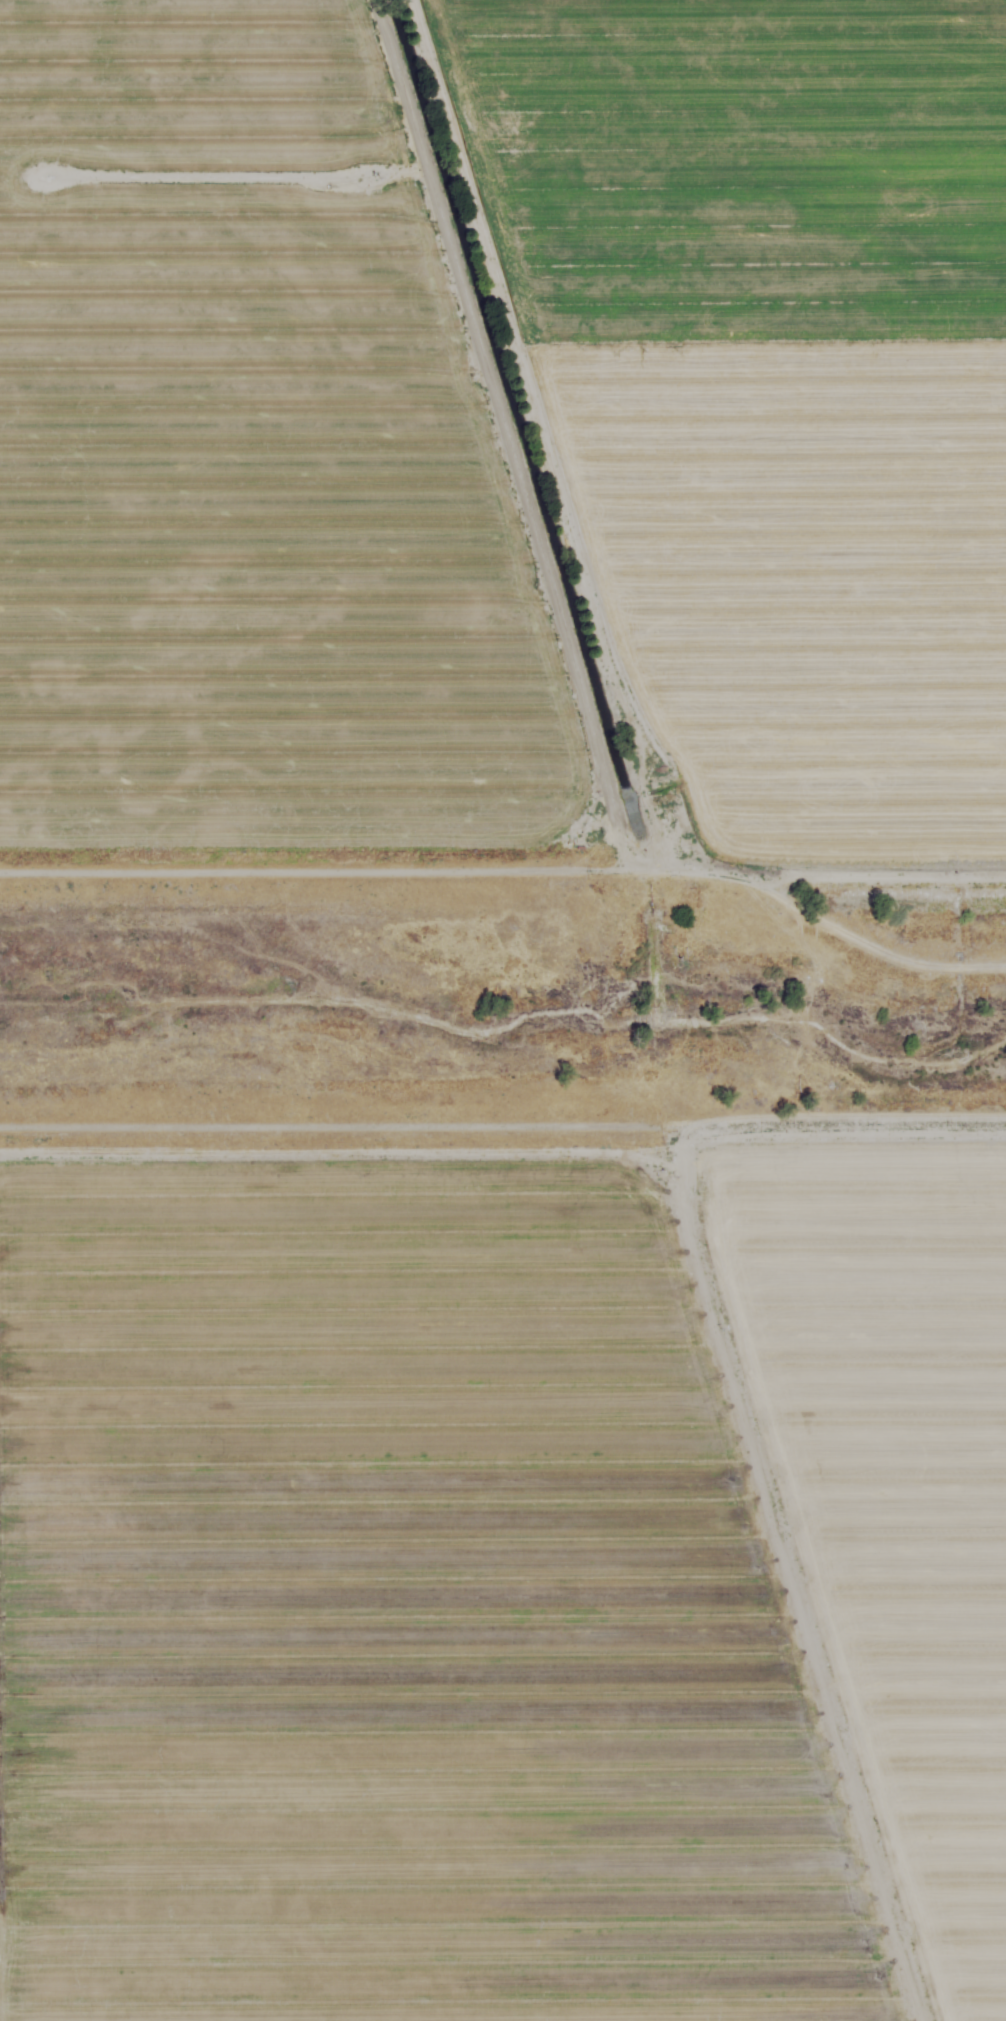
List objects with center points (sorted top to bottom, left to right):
crop: (503, 435)
road: (640, 1020)
road: (335, 1164)
road: (723, 1178)
road: (891, 1184)
crop: (504, 1577)

